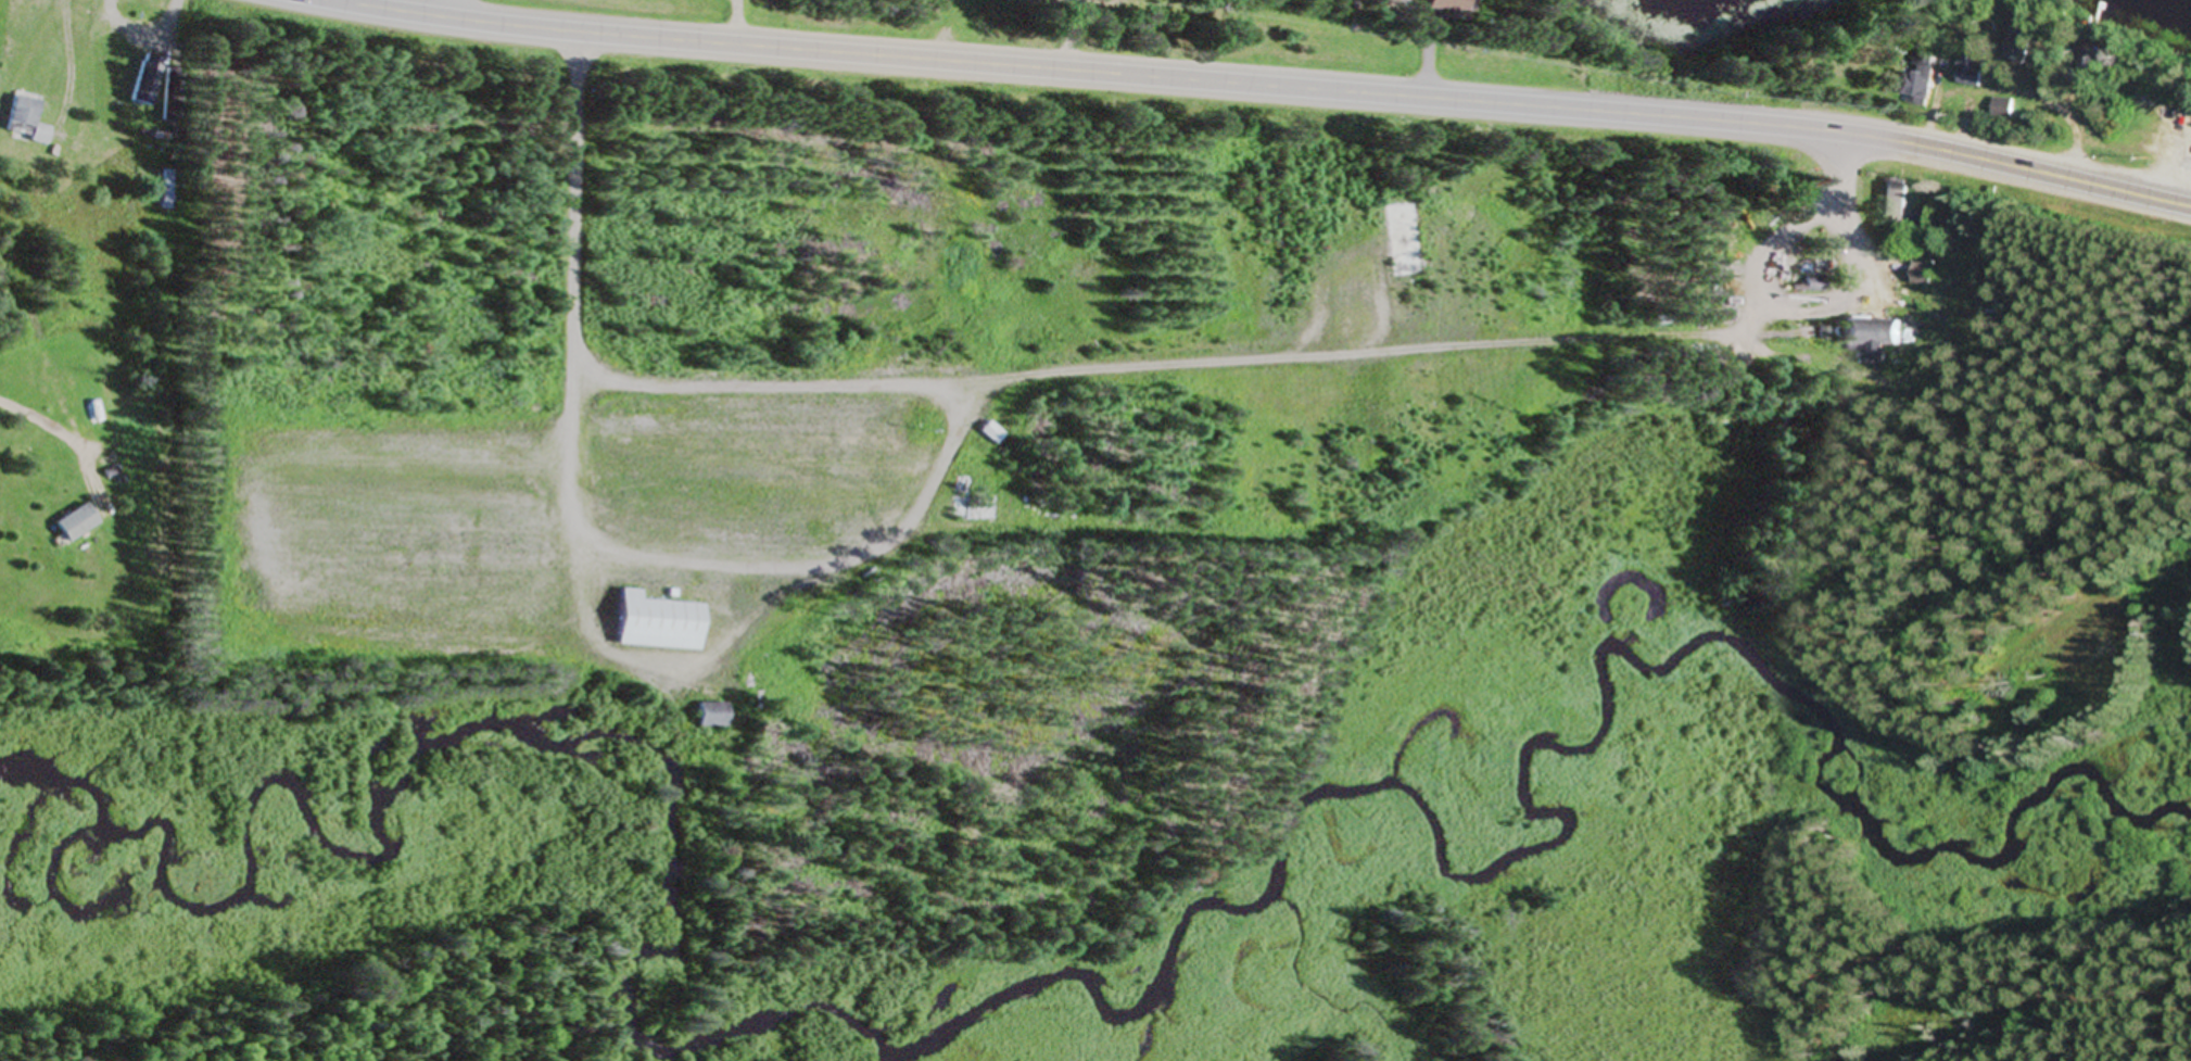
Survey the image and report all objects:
building: (1447, 5)
building: (2019, 40)
building: (1971, 72)
building: (1916, 79)
building: (143, 84)
road: (1261, 87)
building: (23, 122)
building: (162, 187)
building: (1896, 202)
building: (1403, 240)
building: (1923, 274)
building: (1812, 286)
building: (1871, 334)
road: (579, 364)
building: (989, 434)
building: (72, 523)
building: (653, 623)
building: (707, 716)

